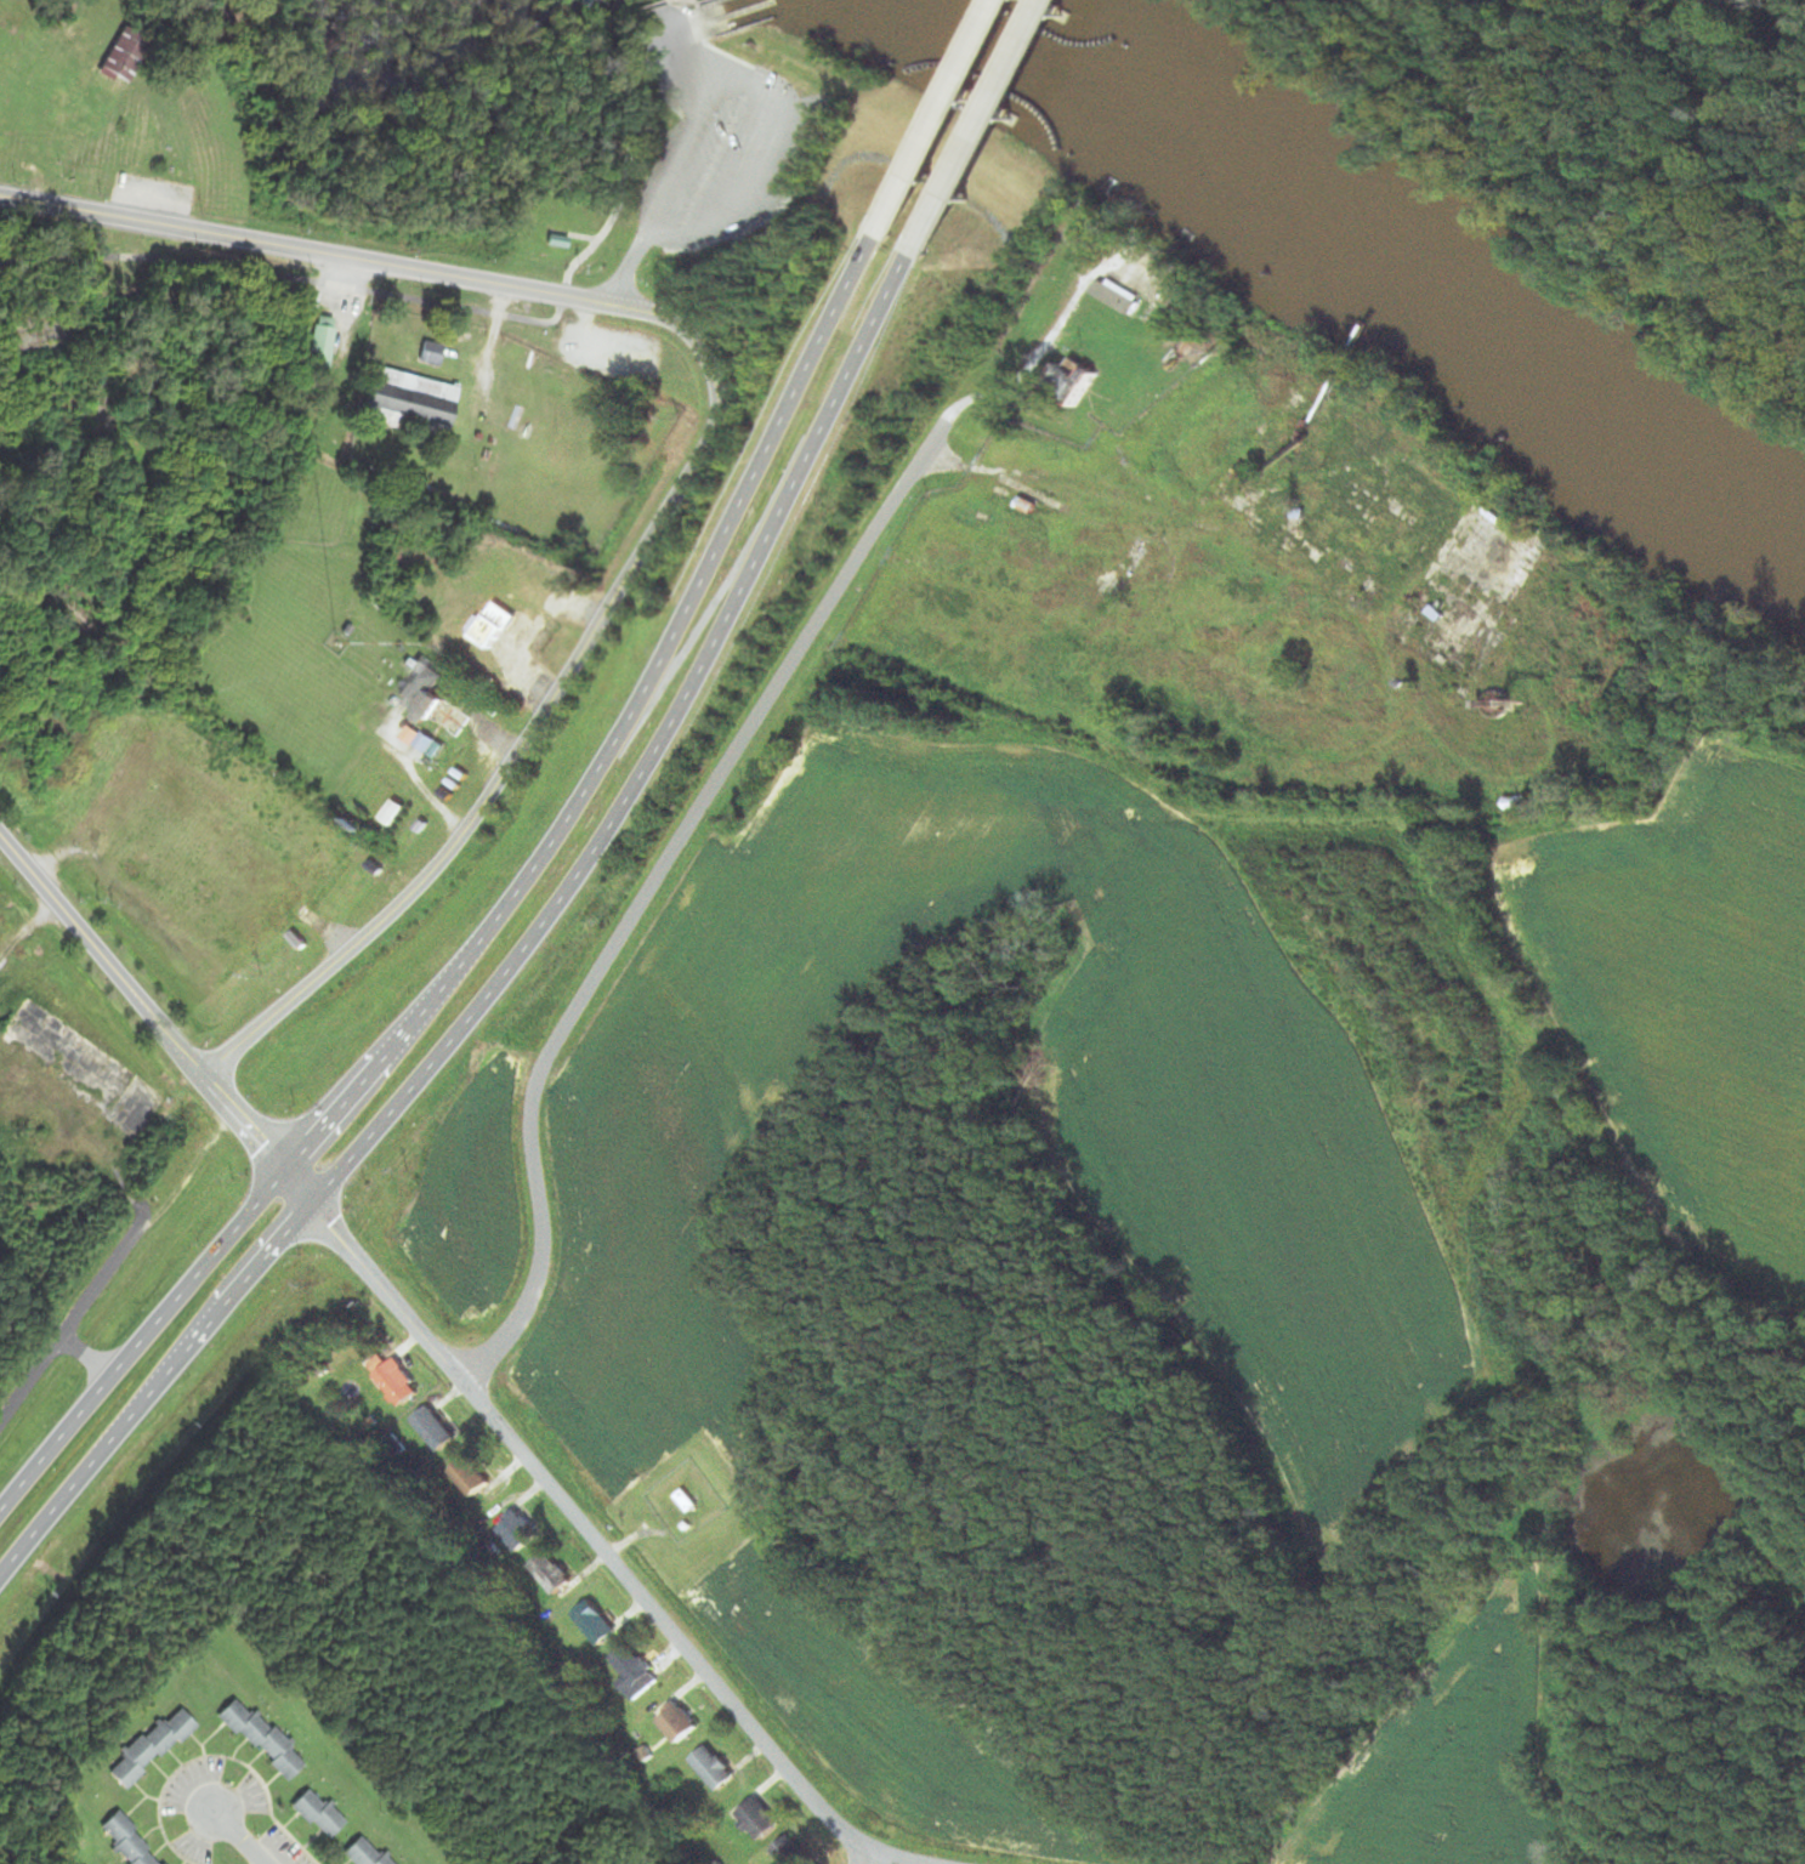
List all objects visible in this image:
building: (127, 58)
road: (948, 119)
road: (988, 129)
building: (1086, 231)
road: (598, 238)
building: (558, 243)
road: (280, 246)
road: (625, 273)
road: (272, 274)
river: (1378, 277)
building: (1118, 299)
road: (589, 300)
road: (557, 314)
building: (323, 346)
building: (432, 354)
building: (414, 404)
building: (1304, 529)
building: (1437, 614)
building: (499, 626)
building: (428, 691)
road: (545, 706)
building: (130, 727)
road: (624, 729)
road: (658, 758)
building: (233, 860)
road: (638, 902)
road: (100, 955)
road: (243, 1121)
road: (297, 1188)
road: (140, 1341)
road: (100, 1371)
road: (27, 1382)
building: (398, 1386)
road: (149, 1393)
building: (433, 1431)
building: (470, 1479)
building: (688, 1502)
building: (517, 1534)
road: (601, 1550)
building: (551, 1574)
building: (597, 1625)
building: (637, 1675)
building: (680, 1724)
building: (263, 1741)
building: (152, 1749)
building: (717, 1769)
building: (319, 1817)
building: (762, 1822)
road: (237, 1840)
building: (127, 1843)
building: (370, 1852)
building: (791, 1854)
road: (868, 1859)

